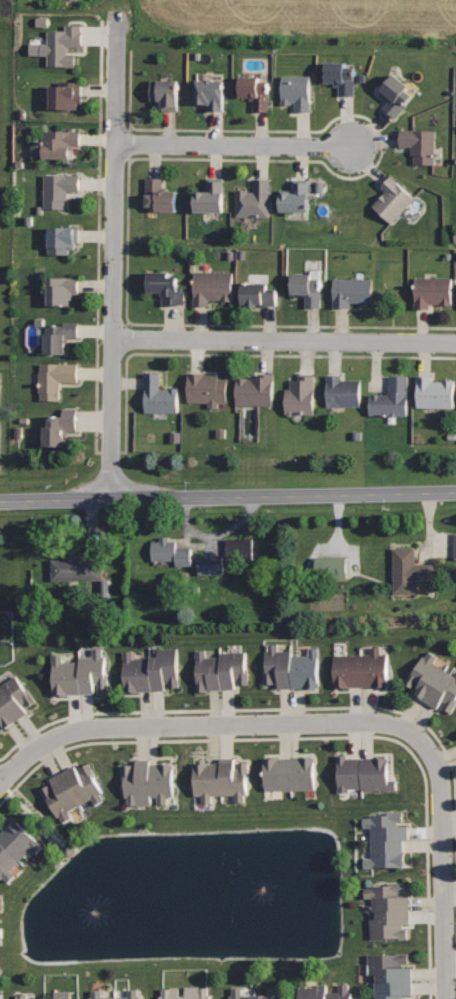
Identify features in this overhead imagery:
building: (62, 45)
road: (117, 77)
building: (341, 77)
building: (297, 91)
building: (211, 92)
building: (255, 92)
building: (166, 93)
building: (66, 94)
building: (395, 94)
building: (60, 142)
building: (420, 144)
road: (234, 145)
building: (59, 189)
building: (160, 196)
building: (210, 196)
building: (296, 196)
building: (254, 199)
building: (393, 199)
building: (62, 238)
park: (6, 252)
building: (166, 286)
building: (212, 286)
building: (308, 286)
building: (62, 289)
building: (352, 291)
building: (432, 291)
building: (257, 293)
road: (113, 322)
building: (59, 336)
road: (284, 341)
building: (55, 378)
building: (207, 388)
building: (255, 390)
building: (343, 390)
building: (435, 392)
building: (159, 394)
building: (301, 395)
building: (392, 398)
parking lot: (6, 427)
building: (60, 427)
road: (227, 497)
building: (171, 551)
building: (229, 557)
building: (76, 568)
building: (334, 568)
building: (410, 570)
building: (291, 667)
building: (361, 668)
building: (221, 669)
building: (151, 670)
building: (79, 672)
building: (432, 682)
building: (14, 700)
road: (336, 723)
building: (364, 772)
building: (290, 773)
building: (221, 778)
building: (148, 781)
building: (71, 790)
building: (387, 839)
building: (15, 846)
building: (390, 910)
building: (1, 931)
building: (391, 975)
building: (274, 991)
building: (95, 992)
building: (323, 992)
building: (186, 993)
building: (65, 995)
building: (22, 996)

